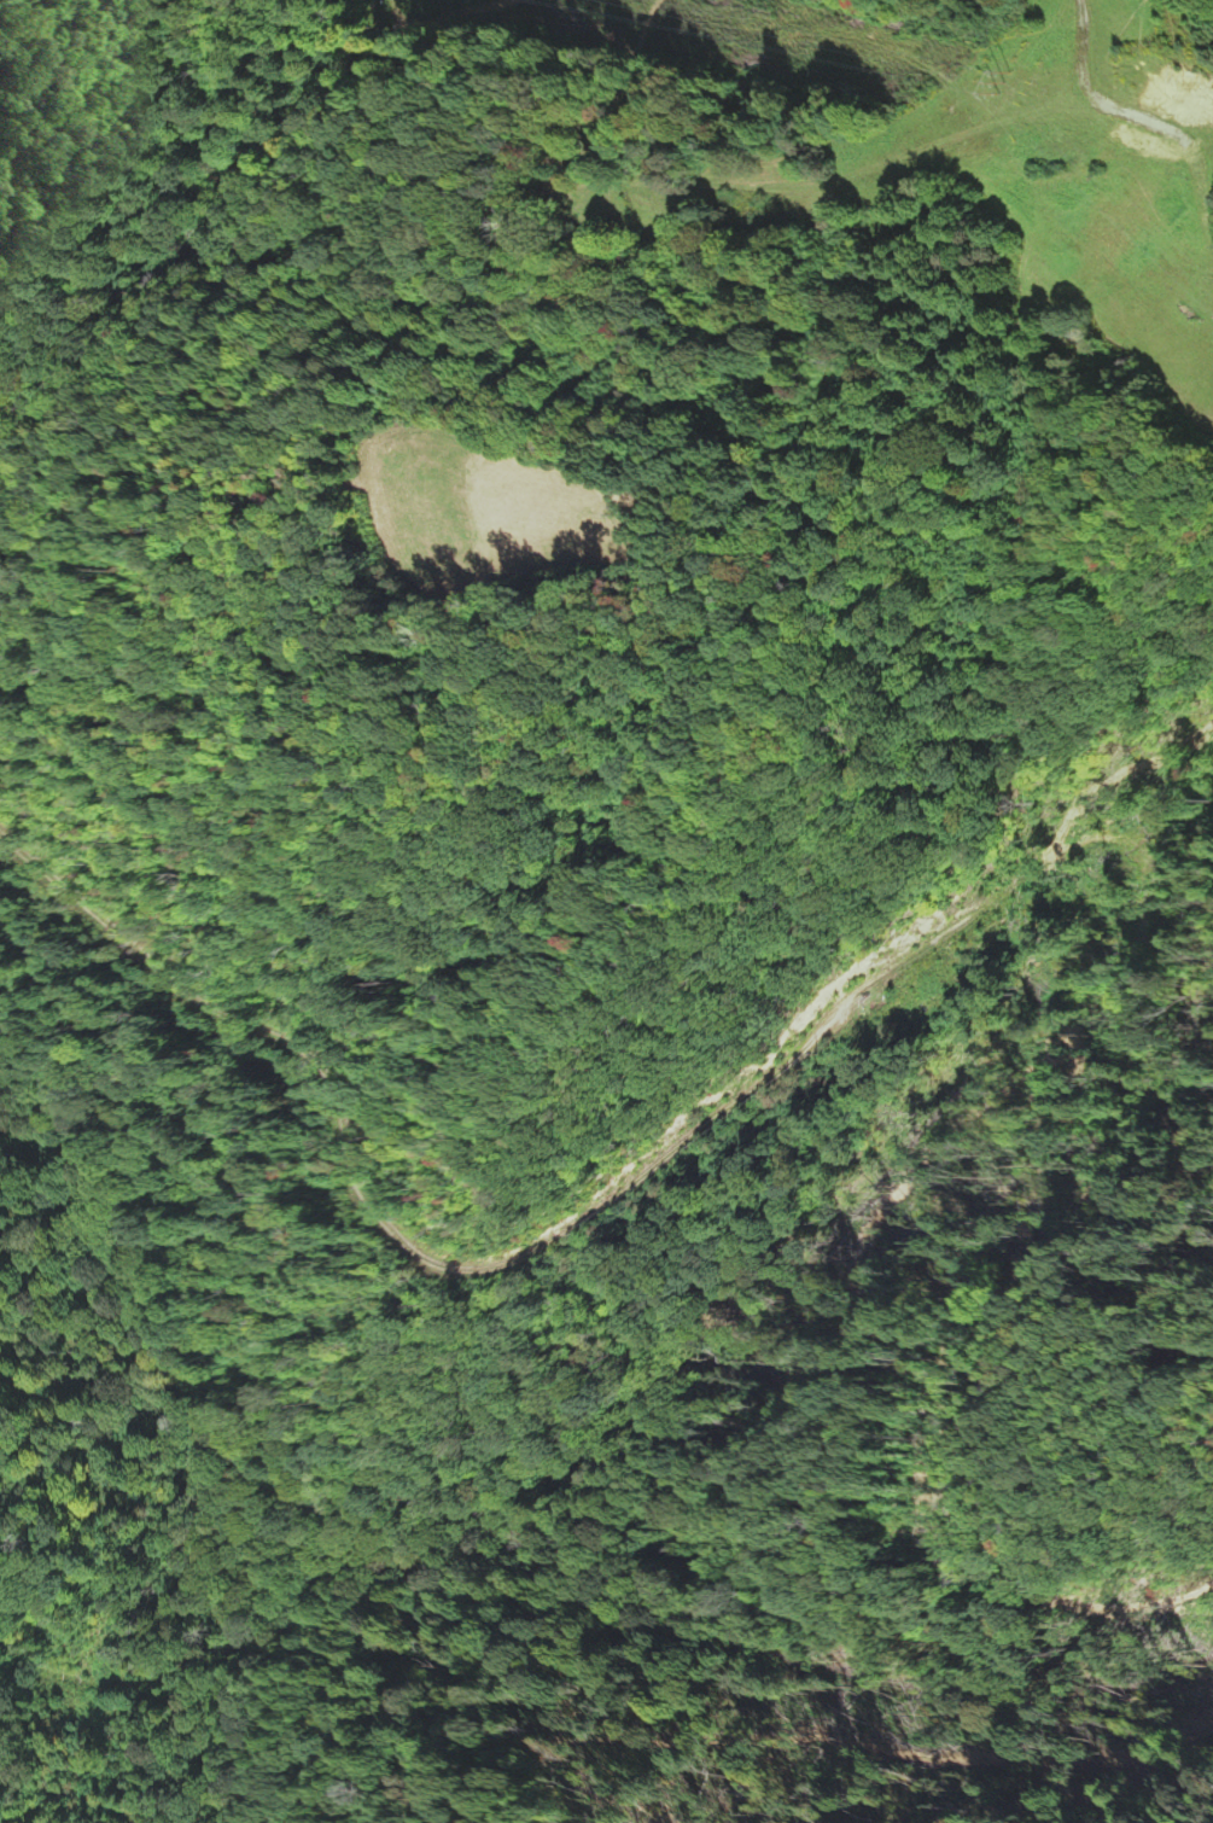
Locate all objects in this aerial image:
road: (384, 1225)
building: (922, 1818)

